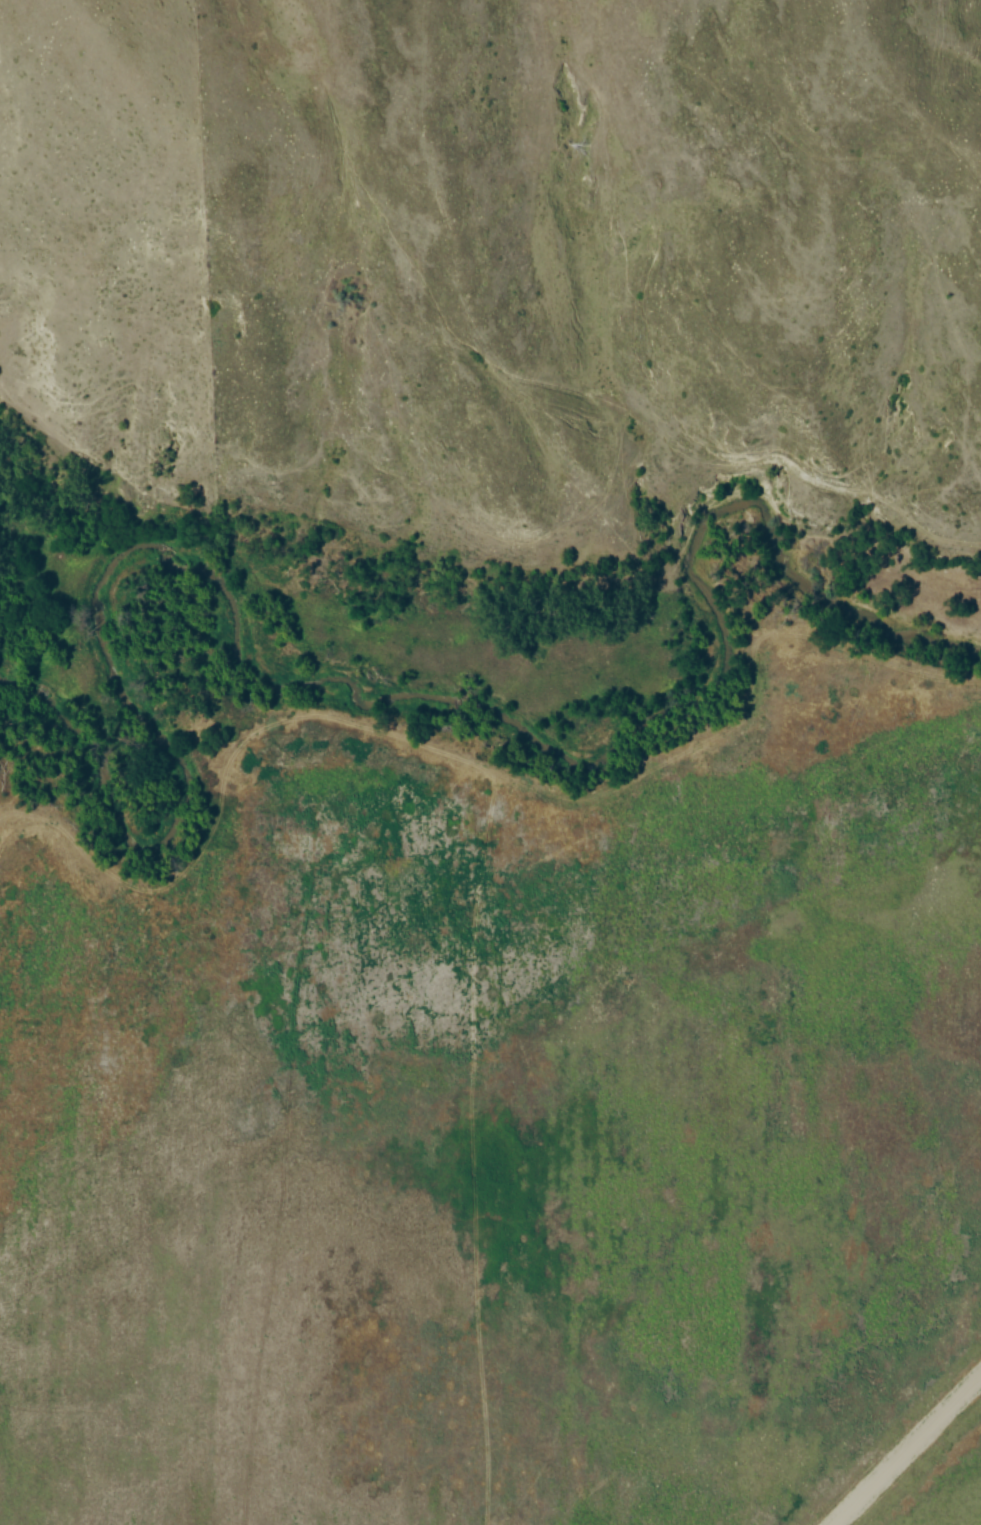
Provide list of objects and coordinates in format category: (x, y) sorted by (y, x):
road: (906, 1446)

